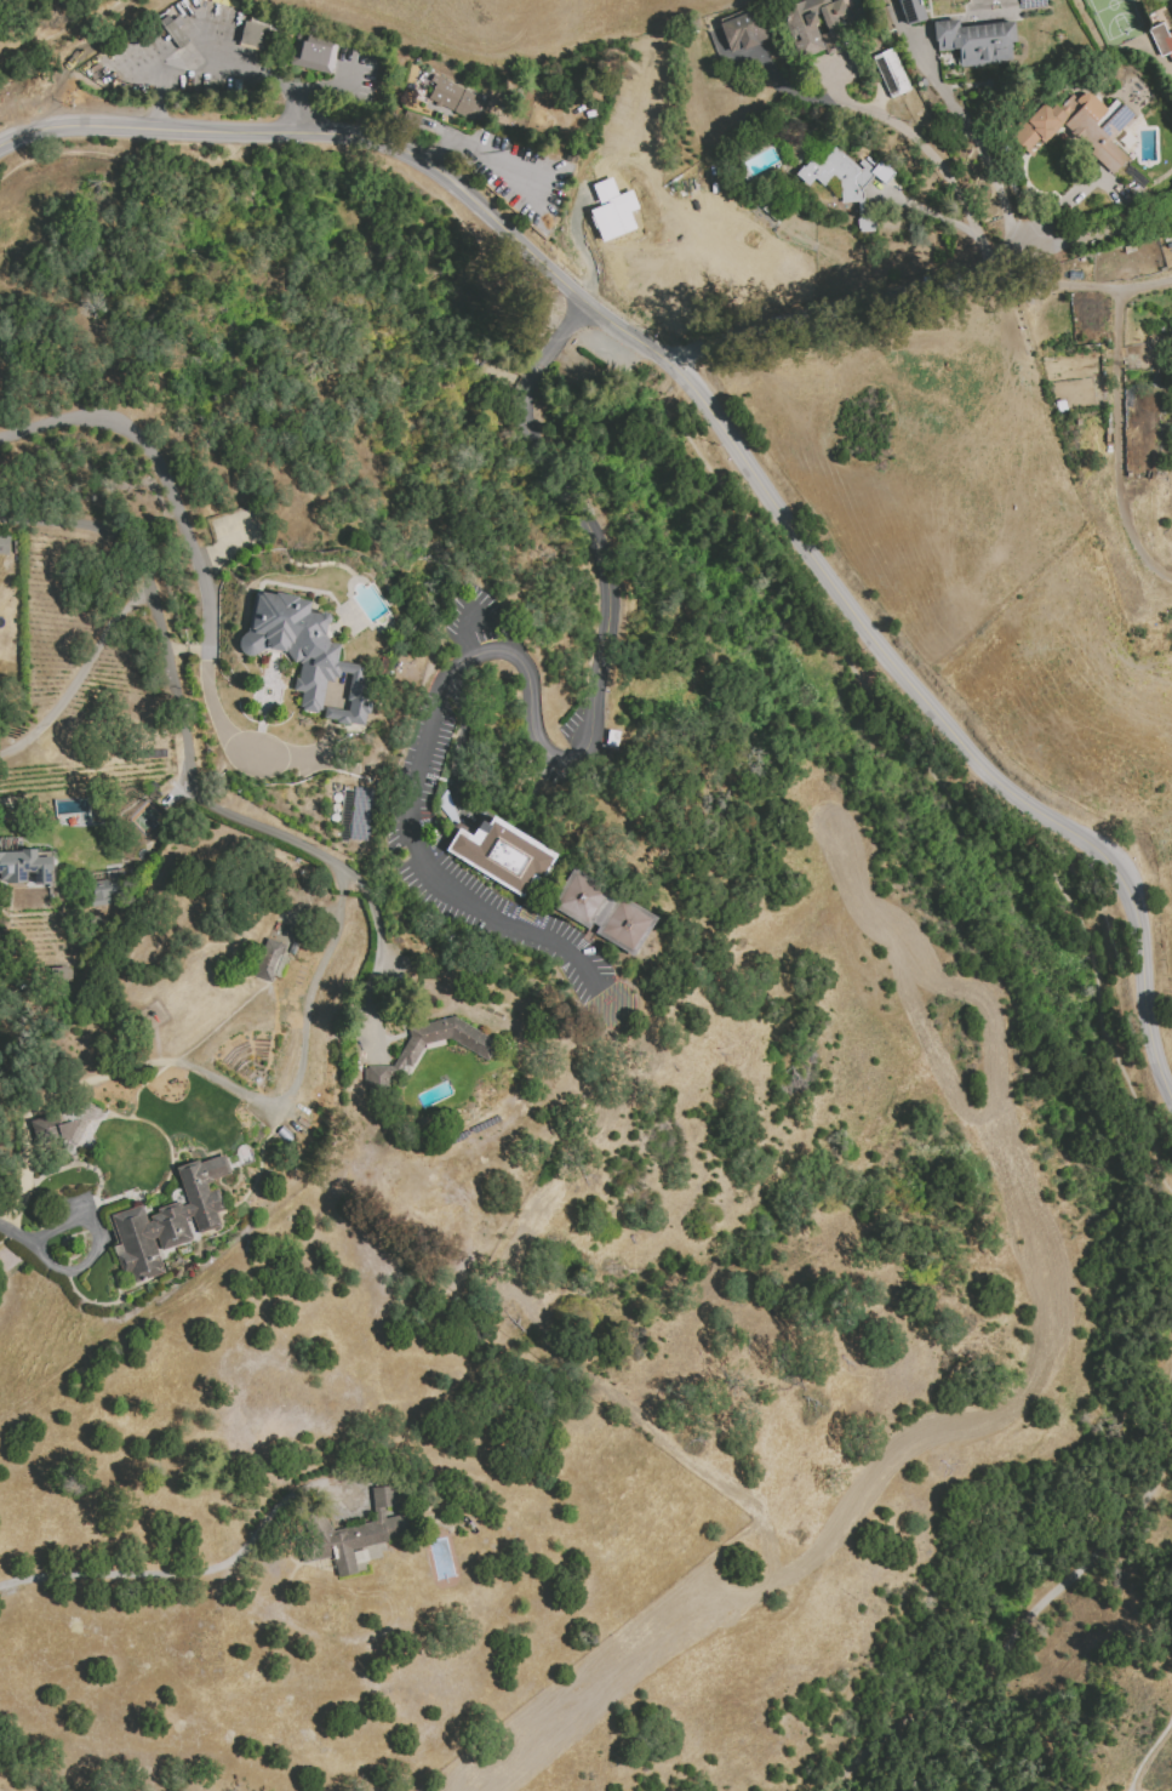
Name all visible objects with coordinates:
building: (1171, 0)
building: (183, 7)
building: (914, 13)
building: (997, 15)
building: (818, 29)
building: (175, 35)
building: (745, 35)
building: (261, 38)
building: (1164, 44)
building: (978, 45)
building: (316, 56)
road: (219, 65)
building: (893, 76)
building: (450, 99)
road: (212, 130)
building: (1085, 131)
road: (977, 142)
road: (480, 148)
road: (927, 154)
road: (126, 156)
building: (577, 158)
building: (848, 184)
building: (612, 211)
road: (927, 211)
road: (458, 218)
road: (919, 283)
road: (1116, 287)
parking lot: (599, 343)
road: (1116, 444)
road: (200, 574)
road: (847, 606)
road: (464, 631)
building: (309, 657)
road: (79, 674)
road: (533, 711)
road: (459, 741)
road: (914, 748)
road: (185, 760)
building: (360, 814)
park: (144, 817)
building: (505, 860)
building: (24, 868)
building: (107, 892)
building: (579, 899)
building: (624, 926)
building: (273, 964)
building: (412, 1056)
road: (212, 1079)
building: (167, 1230)
road: (15, 1233)
road: (95, 1243)
building: (245, 1245)
building: (246, 1251)
building: (353, 1536)
road: (195, 1572)
road: (1037, 1607)
road: (1147, 1753)

